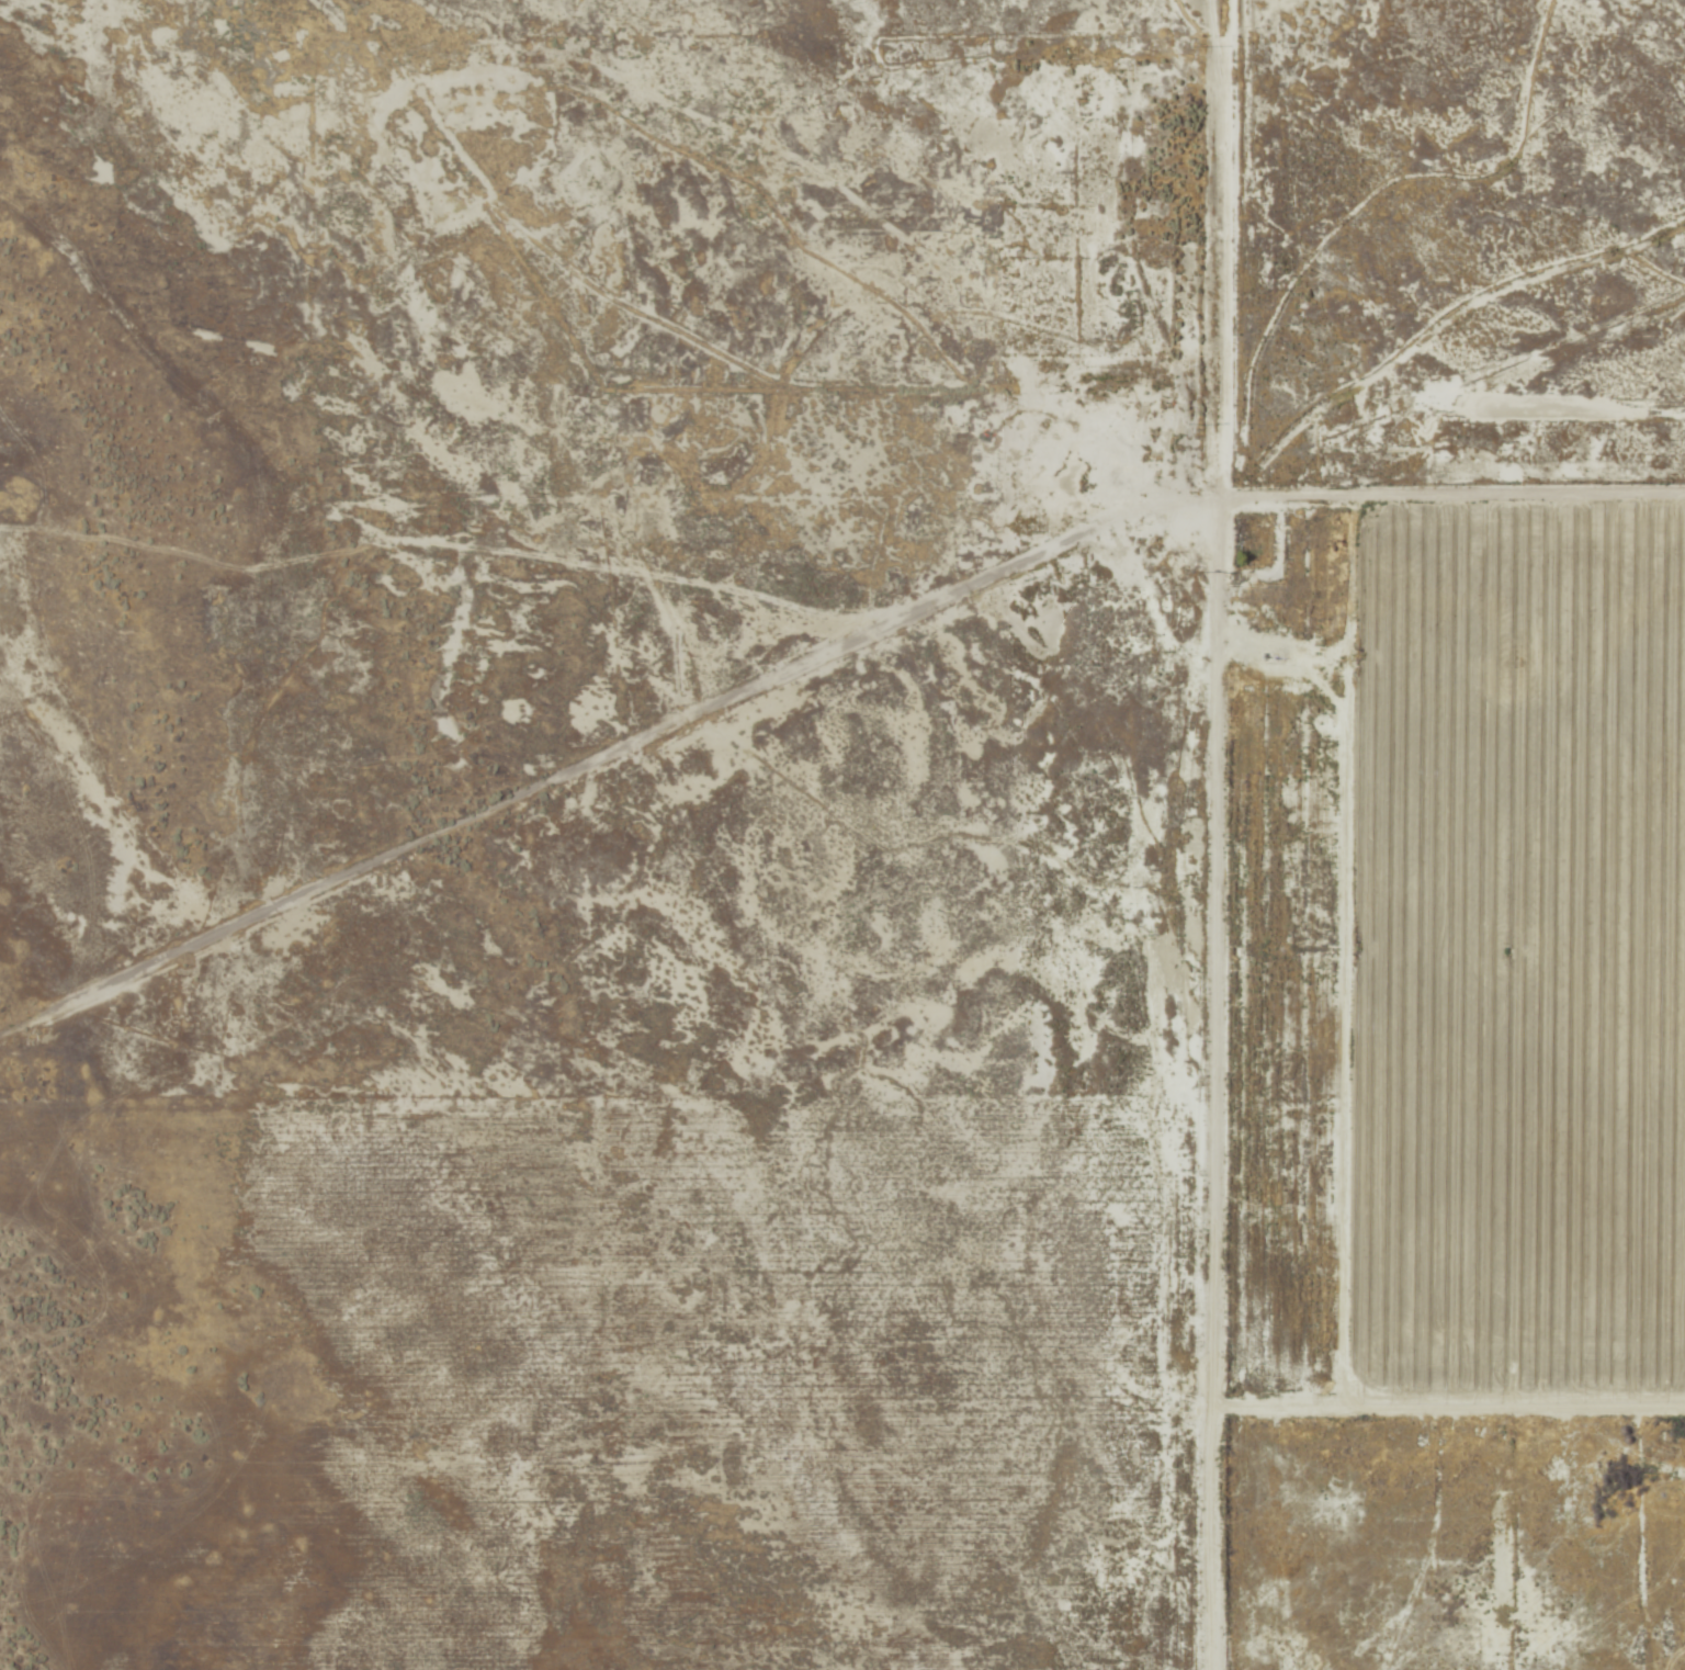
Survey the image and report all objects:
building: (1156, 445)
road: (615, 778)

